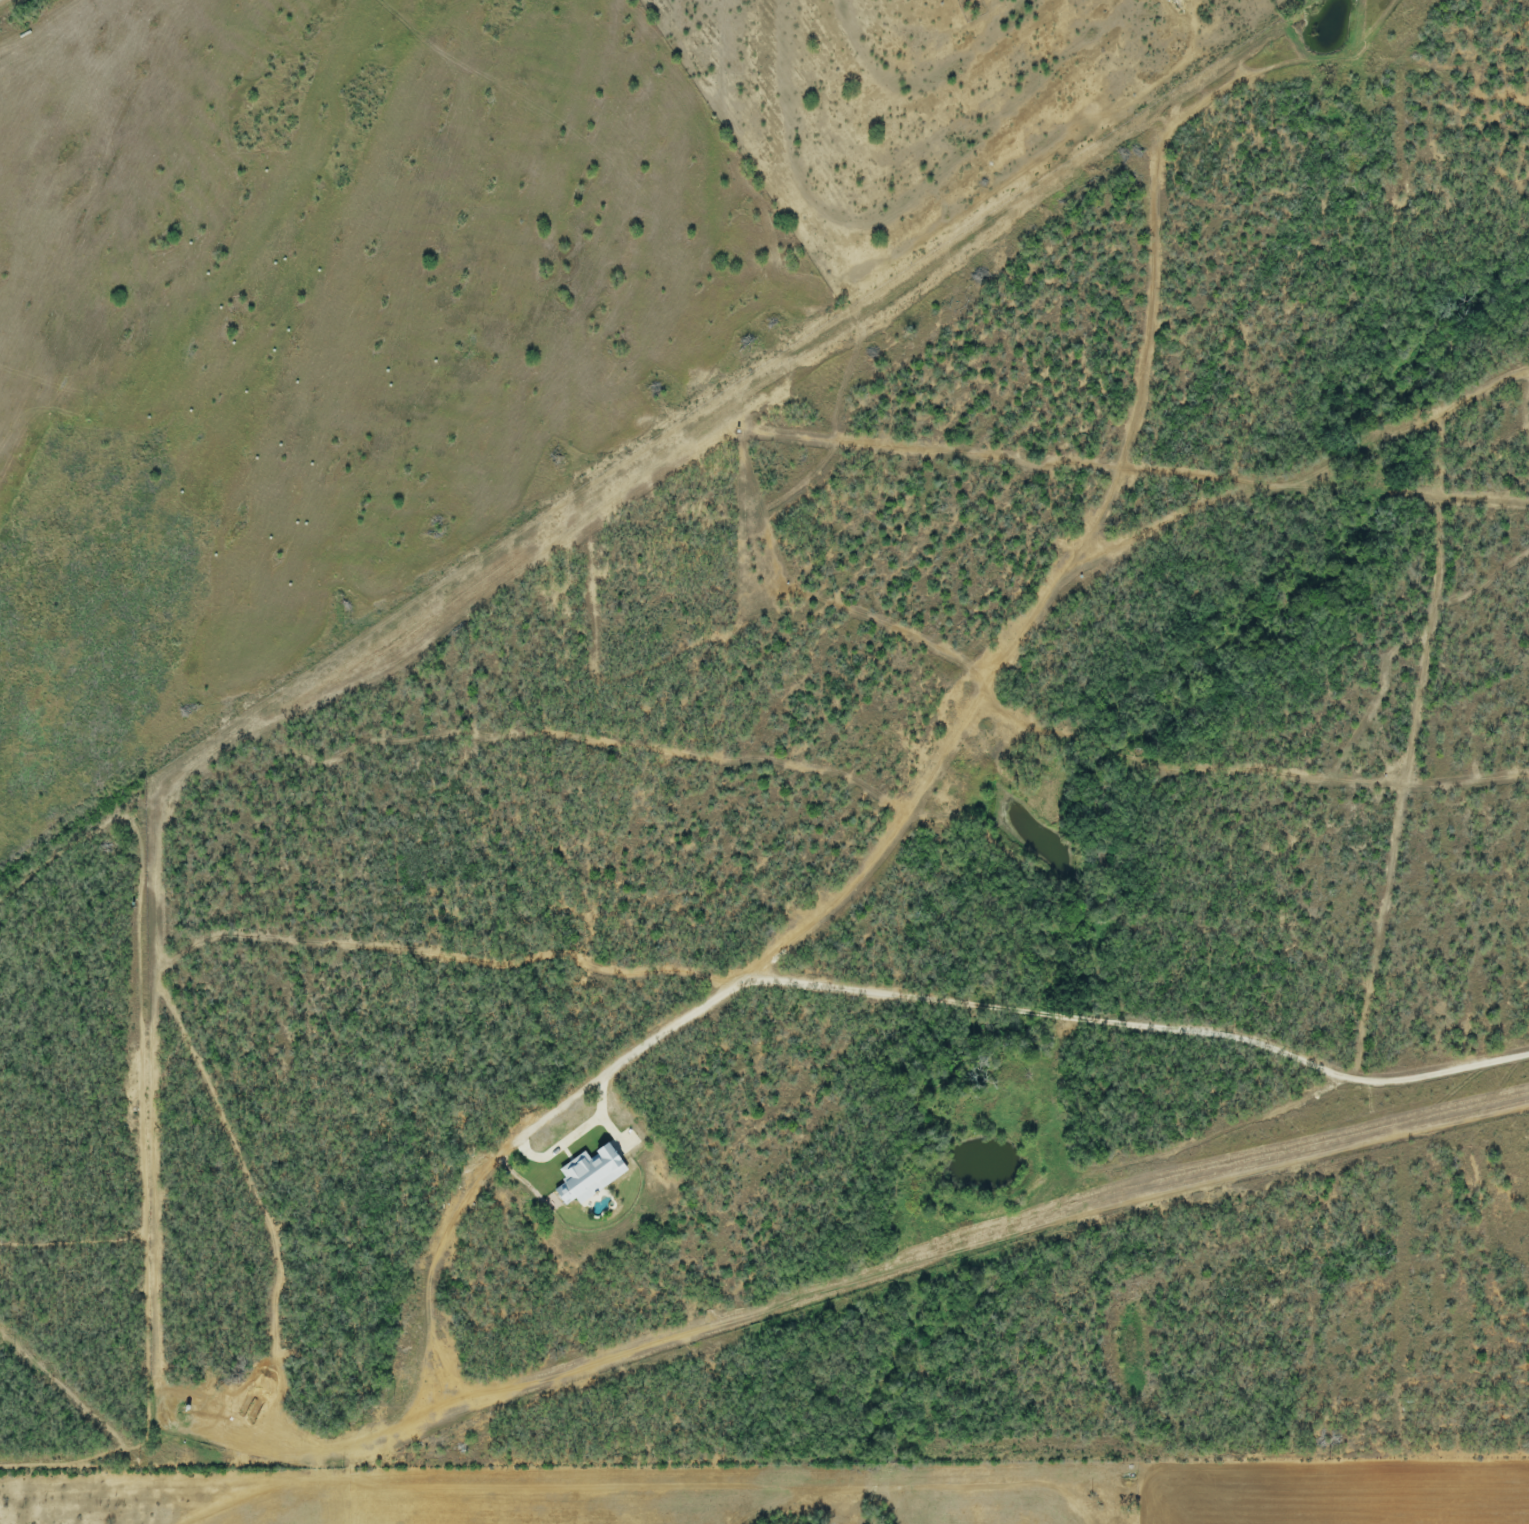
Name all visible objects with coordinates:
road: (1056, 1018)
road: (531, 1158)

